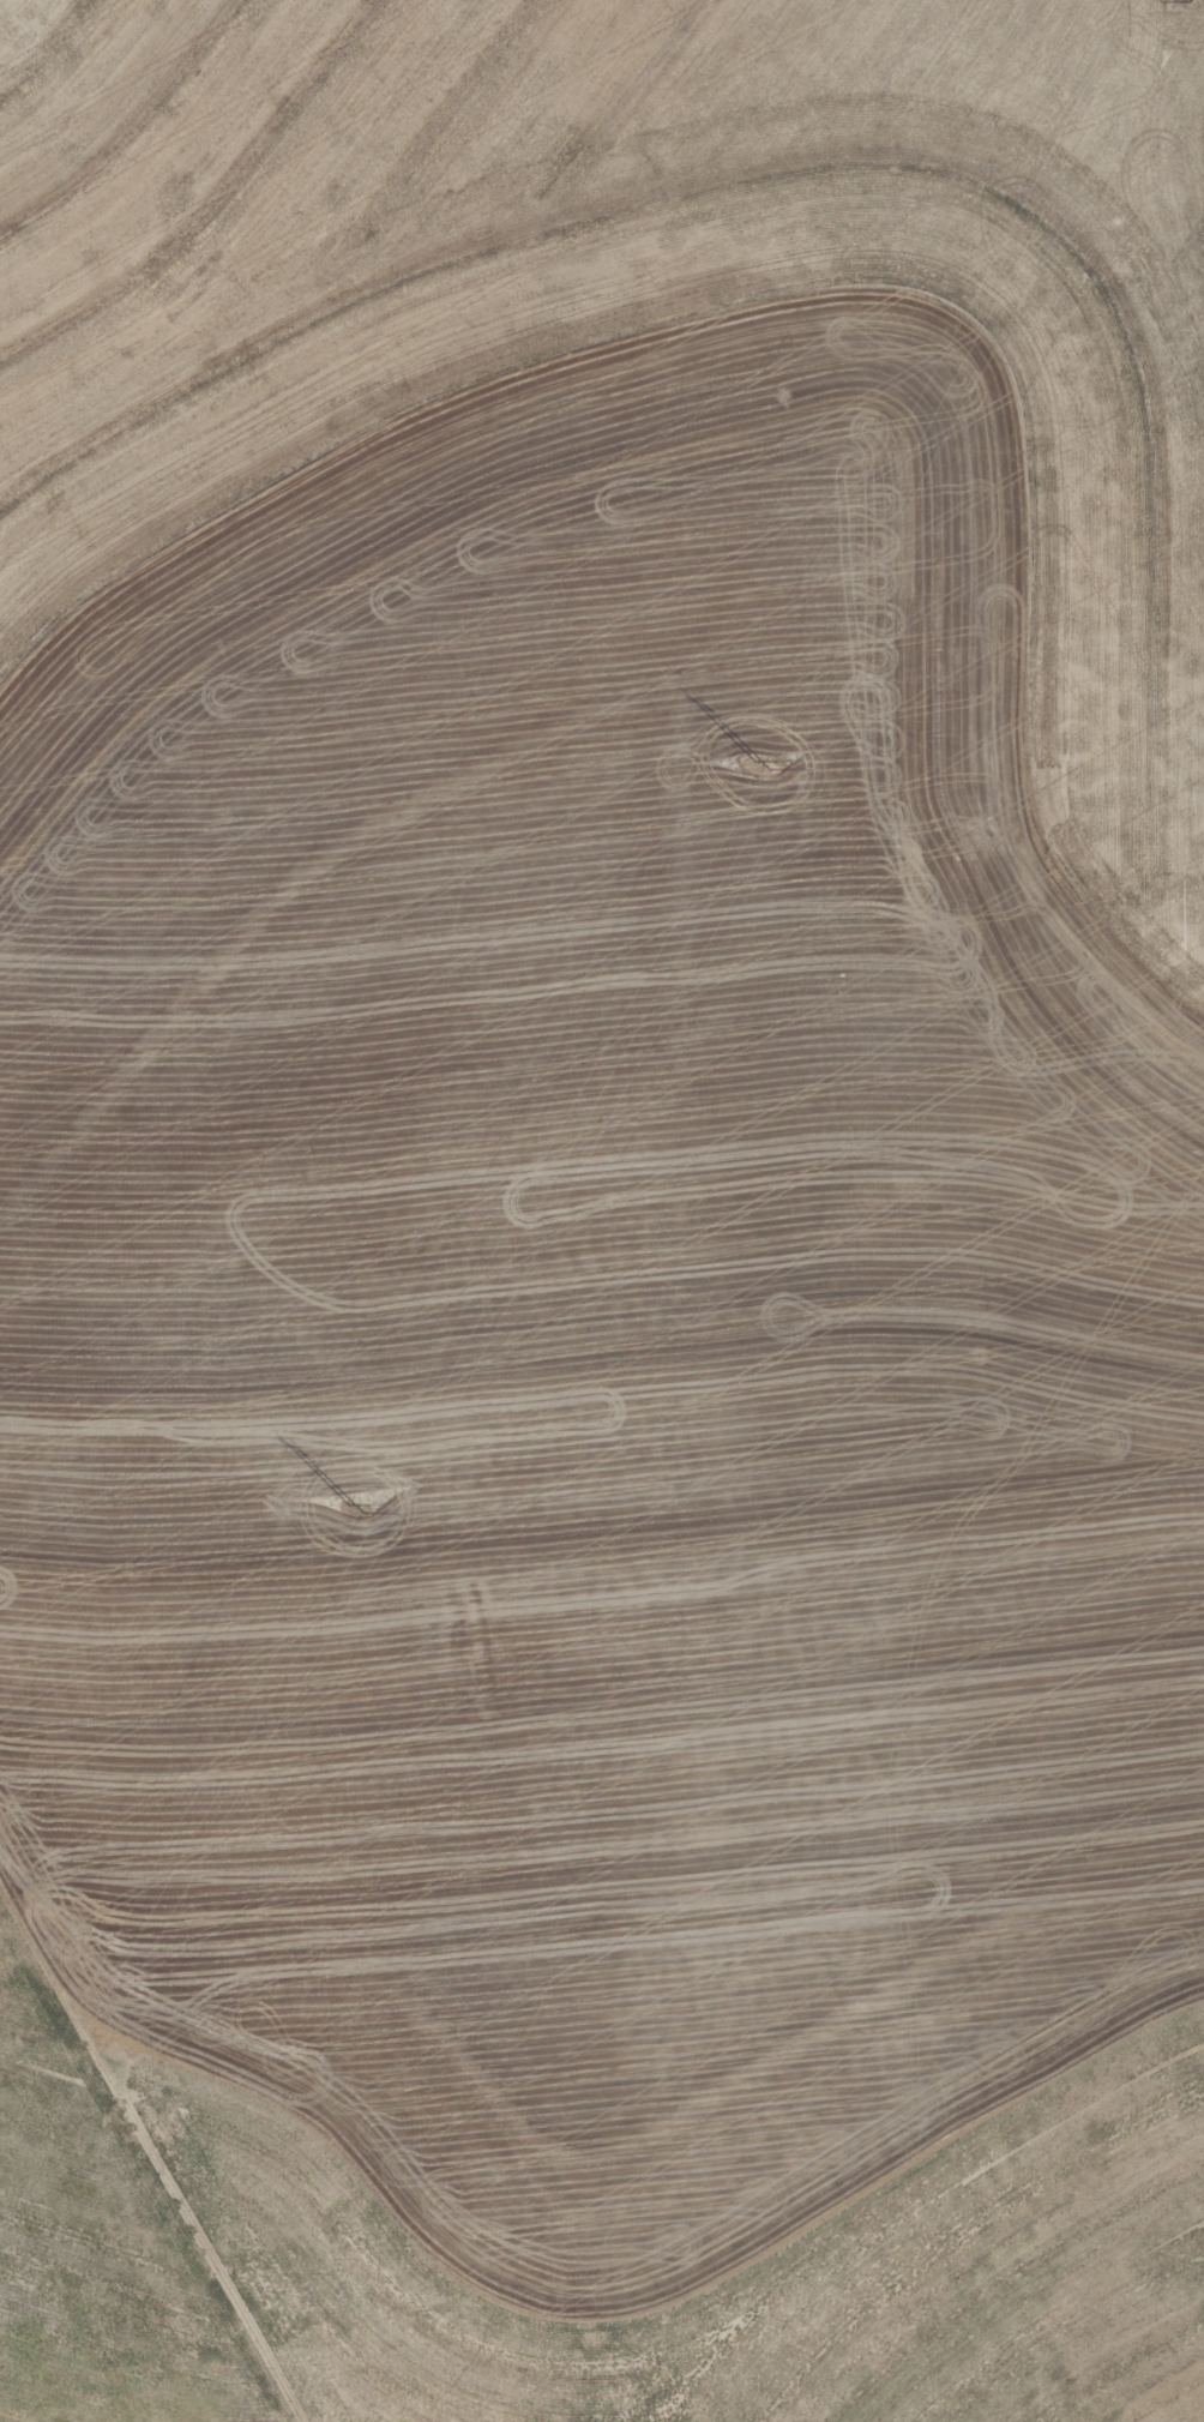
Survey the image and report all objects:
power tower: (757, 767)
power tower: (351, 1514)

